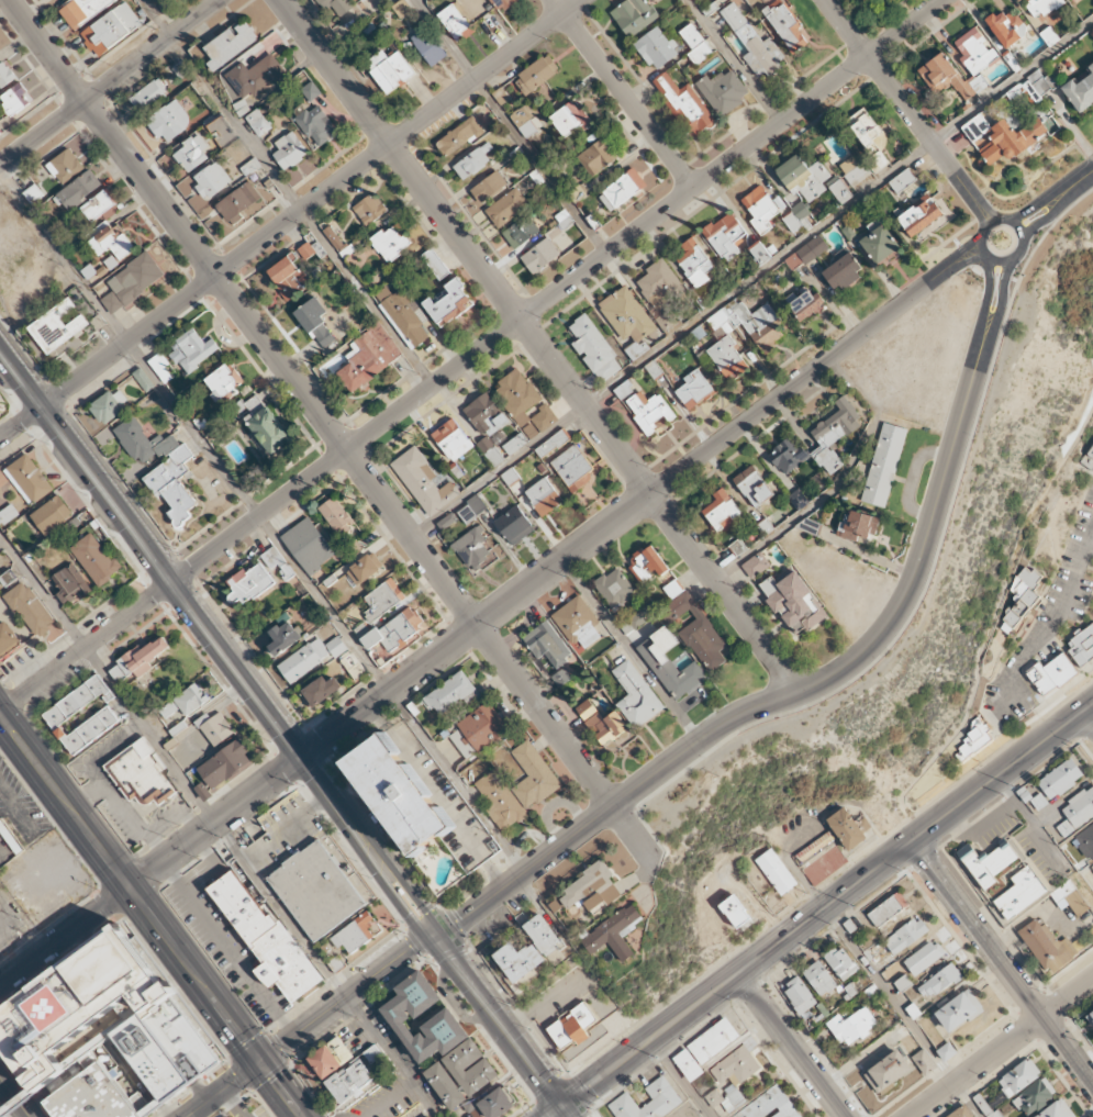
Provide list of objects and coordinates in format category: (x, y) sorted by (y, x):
building: (363, 0)
building: (861, 0)
building: (502, 4)
building: (336, 5)
building: (1041, 7)
building: (401, 8)
building: (81, 10)
building: (634, 15)
building: (455, 22)
building: (785, 25)
building: (1005, 26)
building: (111, 29)
building: (754, 43)
building: (230, 44)
building: (695, 44)
building: (428, 46)
building: (656, 48)
road: (46, 51)
road: (152, 51)
building: (974, 51)
road: (733, 62)
building: (389, 69)
building: (536, 74)
building: (5, 75)
building: (255, 76)
building: (949, 77)
road: (889, 85)
building: (1034, 86)
building: (311, 91)
building: (723, 91)
building: (1080, 91)
road: (623, 93)
building: (149, 96)
building: (500, 96)
building: (15, 99)
building: (684, 104)
building: (569, 119)
building: (526, 120)
building: (170, 121)
building: (258, 122)
building: (316, 125)
road: (510, 126)
building: (863, 127)
road: (42, 133)
building: (459, 136)
building: (1002, 138)
building: (289, 150)
building: (191, 153)
building: (598, 157)
building: (471, 164)
building: (65, 166)
building: (852, 170)
building: (803, 177)
road: (1082, 178)
building: (212, 180)
building: (902, 180)
building: (489, 187)
building: (622, 189)
building: (838, 189)
building: (78, 190)
road: (286, 192)
road: (974, 194)
road: (968, 200)
road: (1061, 201)
road: (1040, 202)
building: (239, 203)
building: (100, 205)
building: (506, 208)
building: (370, 209)
building: (760, 209)
building: (796, 216)
building: (919, 216)
road: (290, 220)
road: (1033, 226)
building: (521, 232)
building: (725, 236)
building: (333, 237)
road: (949, 237)
building: (111, 241)
building: (391, 242)
building: (879, 244)
road: (961, 250)
building: (806, 253)
building: (760, 254)
building: (539, 255)
road: (949, 260)
road: (972, 260)
road: (999, 260)
building: (693, 263)
building: (435, 264)
road: (975, 270)
building: (843, 272)
road: (1001, 275)
road: (750, 276)
road: (941, 277)
building: (288, 278)
building: (132, 281)
building: (659, 283)
road: (985, 301)
building: (448, 303)
building: (804, 303)
road: (1002, 303)
building: (403, 314)
building: (666, 320)
building: (315, 322)
building: (748, 323)
building: (58, 327)
road: (540, 344)
building: (594, 348)
building: (192, 351)
road: (470, 355)
building: (368, 356)
building: (727, 358)
building: (160, 367)
building: (224, 382)
building: (623, 390)
building: (694, 390)
building: (524, 402)
building: (110, 405)
building: (649, 412)
building: (486, 415)
building: (264, 423)
building: (834, 435)
building: (453, 440)
building: (551, 443)
building: (515, 444)
building: (490, 451)
building: (787, 456)
building: (1089, 458)
building: (883, 465)
building: (160, 466)
building: (573, 467)
building: (29, 479)
building: (423, 481)
road: (370, 484)
building: (752, 485)
building: (544, 496)
building: (799, 499)
building: (471, 509)
road: (807, 509)
building: (721, 511)
building: (53, 515)
building: (337, 517)
road: (261, 521)
building: (446, 521)
building: (514, 525)
building: (858, 525)
building: (308, 545)
building: (738, 547)
building: (354, 548)
building: (473, 549)
building: (97, 559)
building: (276, 561)
building: (647, 562)
building: (755, 565)
building: (363, 570)
road: (929, 576)
building: (7, 578)
building: (69, 584)
building: (248, 584)
building: (614, 588)
building: (672, 589)
road: (172, 593)
building: (1020, 599)
building: (382, 600)
building: (793, 602)
building: (30, 608)
building: (642, 616)
building: (578, 623)
building: (698, 632)
building: (394, 633)
road: (461, 636)
building: (283, 637)
building: (7, 640)
building: (547, 645)
building: (1081, 646)
road: (632, 650)
building: (310, 657)
building: (138, 660)
building: (669, 663)
building: (352, 664)
building: (1050, 673)
building: (561, 677)
building: (321, 690)
building: (453, 694)
building: (636, 695)
road: (780, 699)
building: (77, 702)
building: (185, 702)
road: (1090, 707)
road: (1090, 715)
road: (291, 723)
building: (601, 723)
building: (216, 728)
building: (90, 730)
building: (480, 730)
railway: (283, 737)
building: (973, 740)
building: (226, 764)
building: (140, 773)
building: (1060, 779)
building: (517, 788)
building: (399, 791)
building: (203, 792)
building: (1080, 807)
parking lot: (18, 817)
road: (219, 825)
building: (846, 828)
building: (1064, 828)
building: (1085, 842)
building: (817, 845)
building: (990, 865)
building: (1092, 867)
building: (776, 871)
road: (397, 876)
road: (382, 885)
building: (593, 889)
building: (316, 891)
building: (1020, 892)
building: (1072, 900)
building: (888, 909)
railway: (419, 911)
road: (817, 913)
building: (737, 914)
road: (149, 915)
building: (616, 931)
building: (355, 932)
building: (544, 934)
building: (905, 936)
traffic signals: (426, 937)
building: (267, 940)
building: (1047, 946)
building: (923, 958)
building: (520, 960)
road: (1002, 962)
building: (841, 963)
building: (819, 978)
building: (939, 982)
building: (800, 995)
helipad: (56, 1008)
building: (959, 1010)
road: (903, 1012)
building: (397, 1015)
building: (1091, 1016)
road: (308, 1026)
road: (498, 1026)
building: (573, 1027)
building: (852, 1027)
building: (103, 1034)
road: (792, 1045)
road: (1001, 1048)
building: (704, 1049)
building: (332, 1058)
building: (924, 1061)
traffic signals: (259, 1063)
parking lot: (415, 1069)
building: (888, 1071)
building: (355, 1076)
road: (681, 1077)
building: (732, 1077)
building: (1018, 1077)
road: (14, 1096)
building: (1035, 1096)
road: (18, 1099)
parking lot: (383, 1099)
building: (649, 1102)
building: (497, 1103)
building: (770, 1105)
railway: (7, 1107)
traffic signals: (561, 1108)
parking lot: (252, 1109)
building: (1057, 1110)
building: (963, 1113)
building: (431, 1116)

